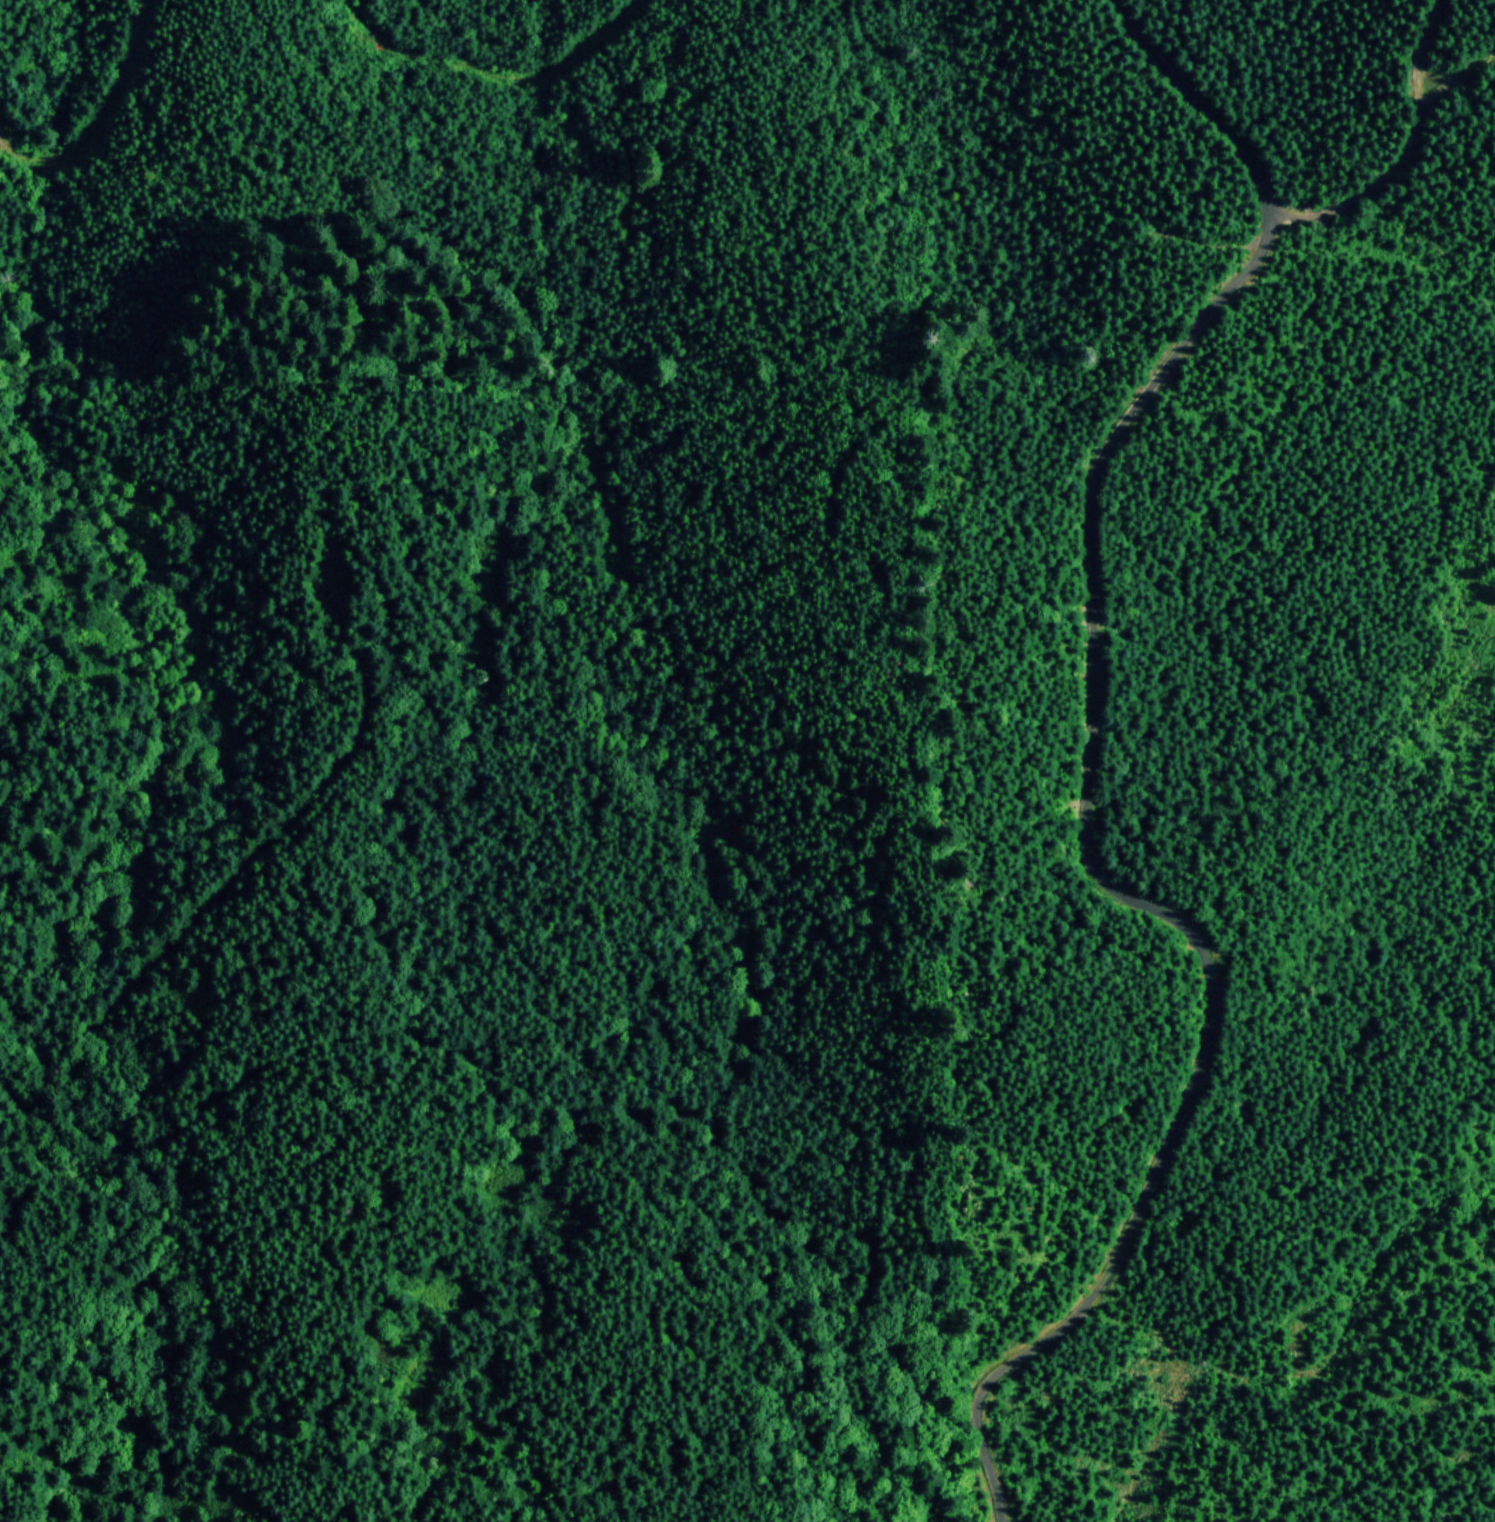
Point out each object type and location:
road: (495, 72)
road: (101, 118)
road: (1089, 785)

